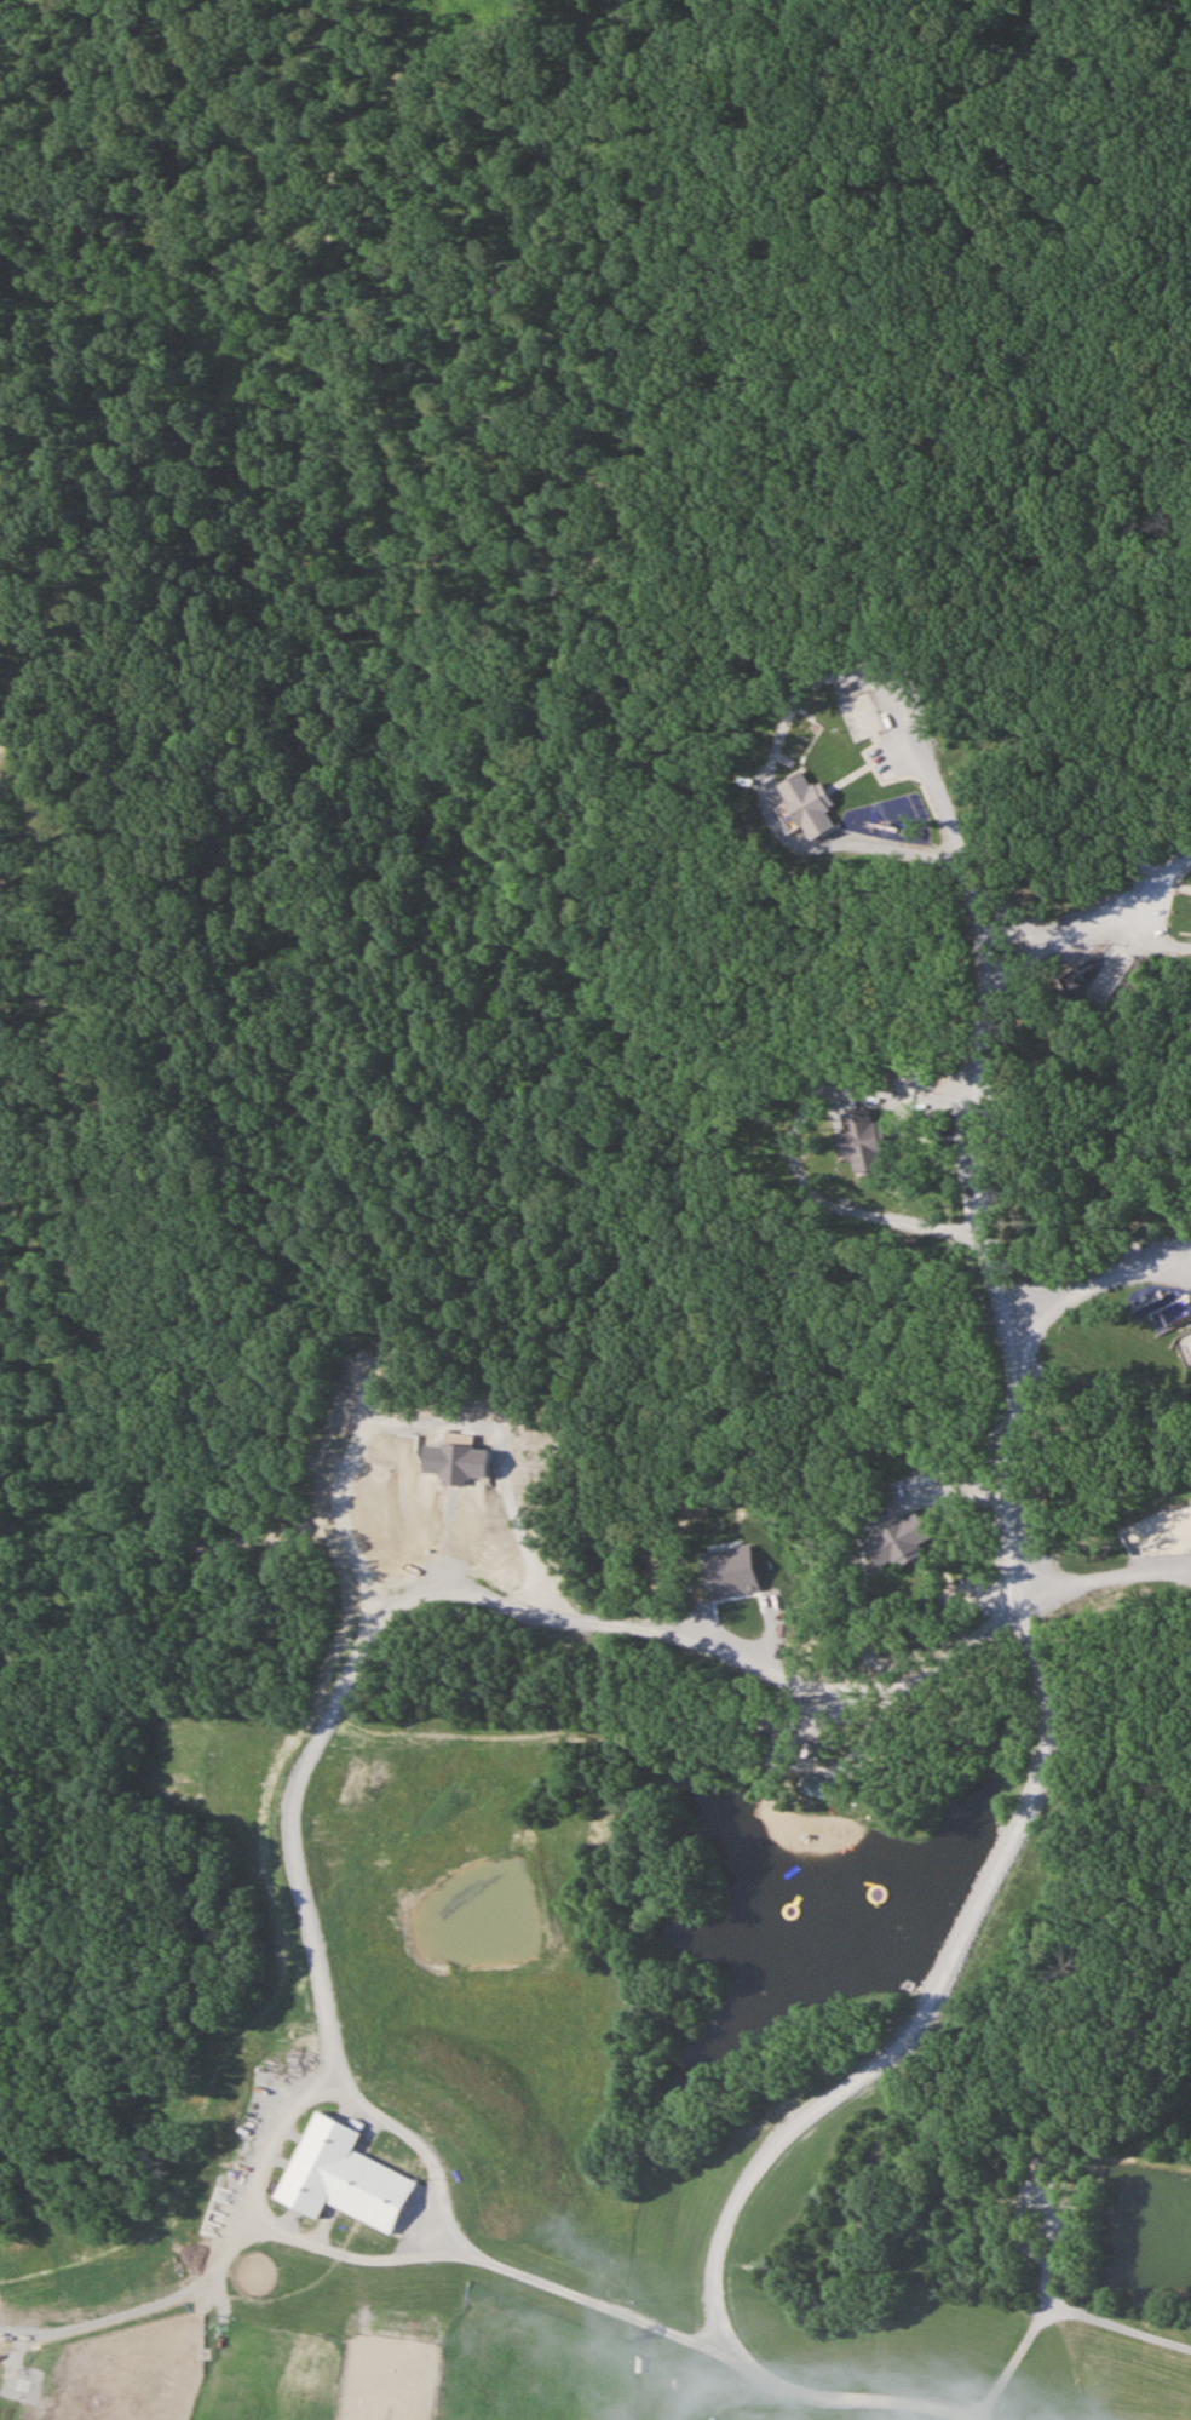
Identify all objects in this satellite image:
road: (957, 861)
road: (1150, 882)
road: (1146, 933)
road: (1043, 940)
road: (904, 1085)
building: (859, 1142)
road: (1092, 1267)
road: (861, 1539)
building: (894, 1542)
road: (466, 1585)
road: (991, 1877)
building: (341, 2180)
road: (298, 2236)
road: (144, 2305)
road: (1045, 2305)
road: (1118, 2322)

